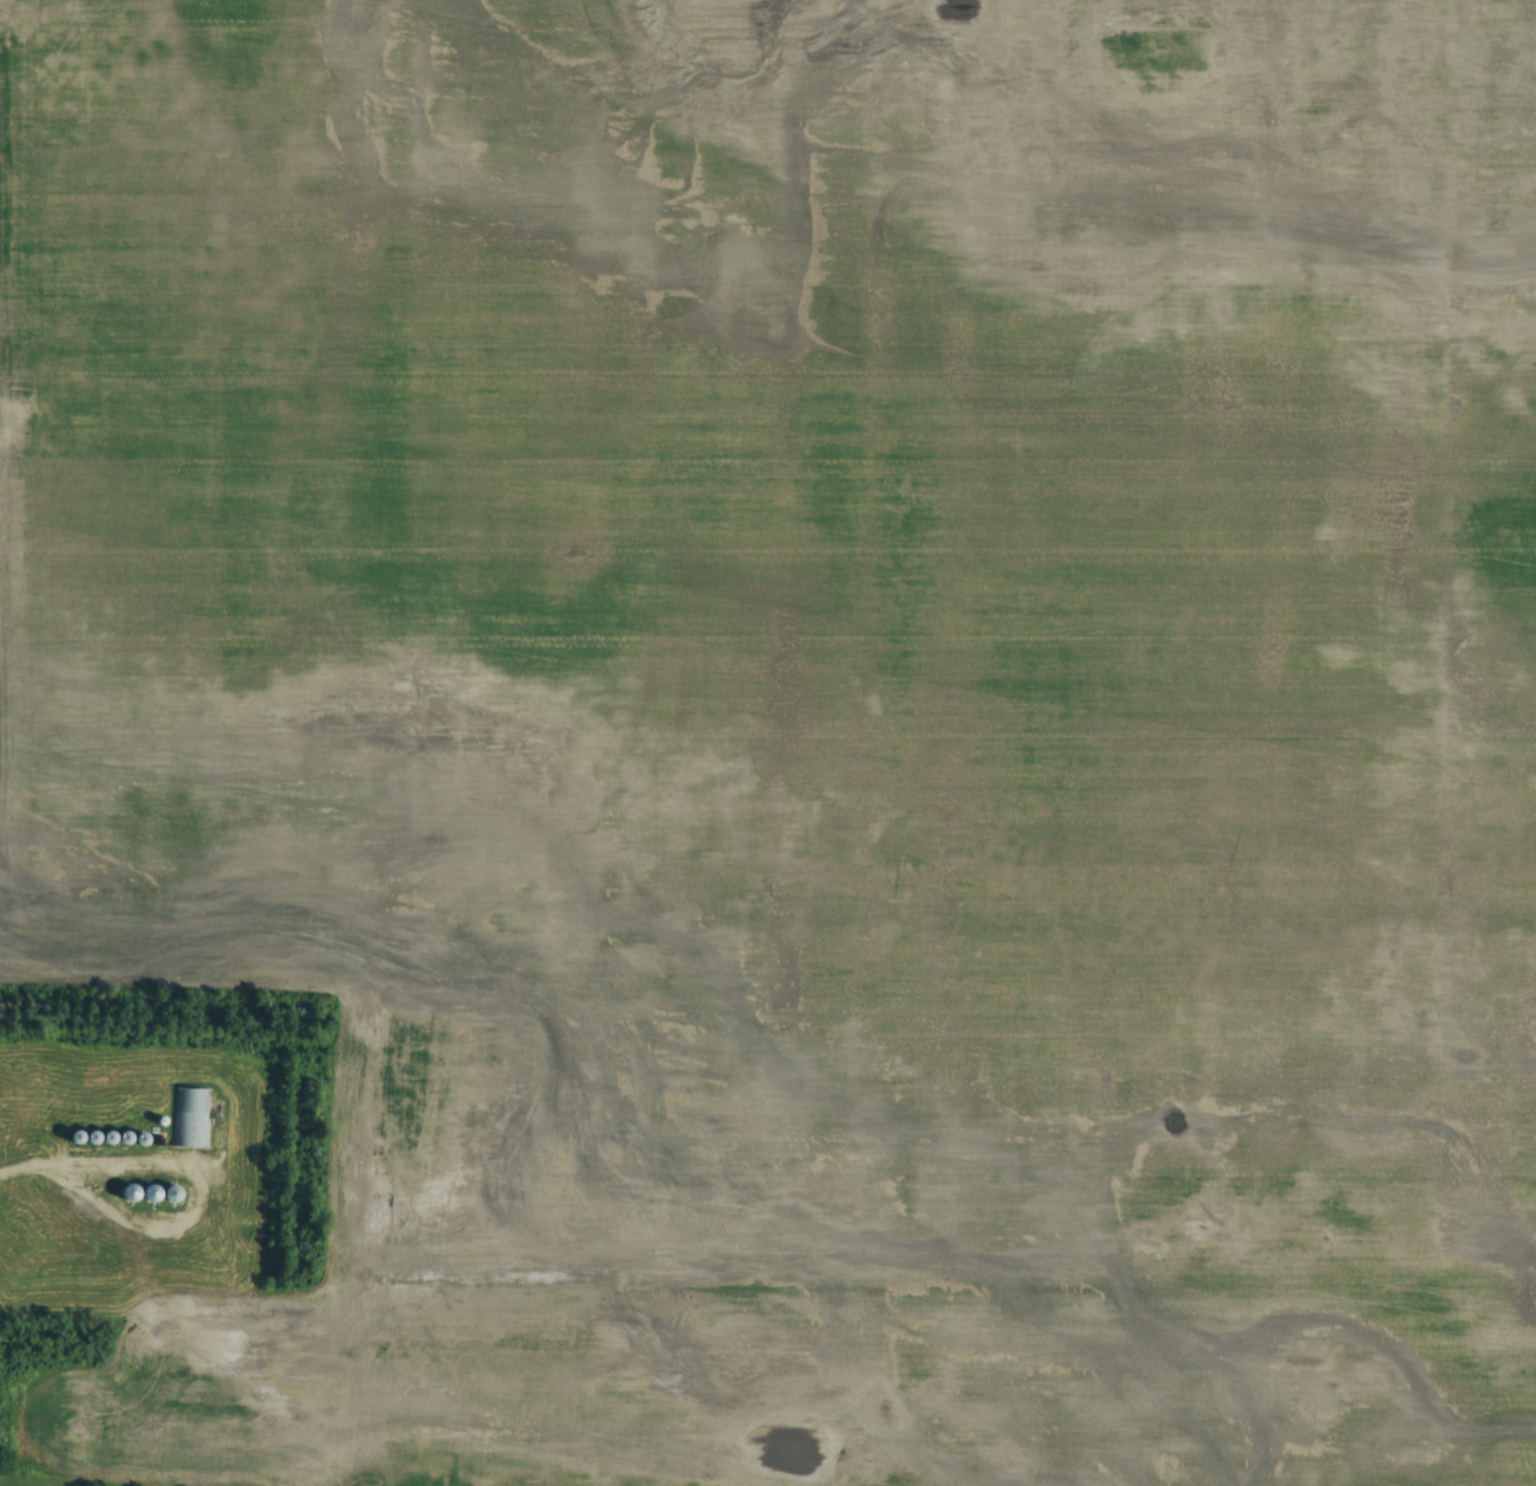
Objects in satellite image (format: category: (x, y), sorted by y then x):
building: (189, 1119)
building: (161, 1122)
silo: (161, 1122)
building: (75, 1138)
silo: (75, 1138)
building: (91, 1138)
silo: (91, 1138)
building: (108, 1139)
silo: (108, 1139)
building: (124, 1139)
silo: (124, 1139)
building: (141, 1140)
silo: (141, 1140)
road: (32, 1169)
building: (128, 1193)
silo: (128, 1193)
building: (149, 1194)
silo: (149, 1194)
building: (170, 1194)
silo: (170, 1194)

